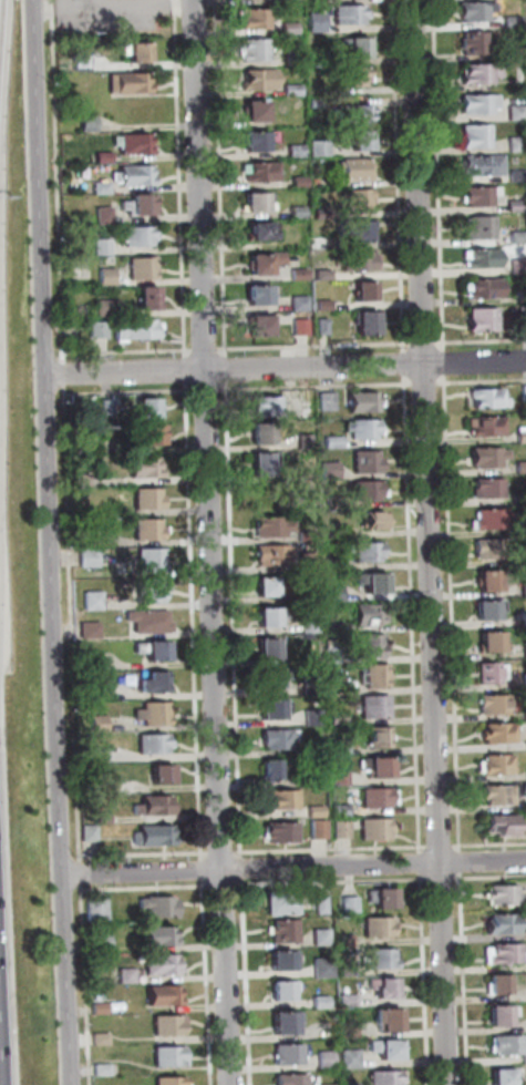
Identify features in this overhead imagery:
road: (0, 0)
building: (293, 1)
building: (478, 10)
building: (352, 16)
building: (257, 18)
building: (515, 21)
building: (320, 22)
building: (293, 29)
building: (477, 42)
building: (360, 47)
building: (258, 50)
building: (140, 51)
building: (296, 54)
building: (83, 64)
building: (483, 73)
building: (357, 76)
building: (262, 79)
building: (132, 83)
building: (297, 91)
building: (320, 103)
building: (483, 104)
building: (259, 110)
building: (519, 112)
building: (357, 113)
building: (92, 123)
building: (481, 136)
building: (365, 140)
building: (258, 141)
building: (136, 143)
building: (518, 143)
building: (323, 149)
building: (300, 150)
building: (106, 157)
building: (487, 166)
building: (358, 170)
building: (264, 171)
building: (136, 175)
road: (441, 175)
road: (401, 176)
building: (519, 176)
road: (223, 178)
road: (182, 180)
road: (60, 181)
building: (303, 182)
building: (318, 182)
building: (104, 187)
building: (483, 196)
building: (364, 201)
building: (259, 202)
building: (142, 204)
building: (518, 206)
building: (302, 213)
building: (326, 214)
building: (107, 215)
building: (484, 228)
building: (360, 231)
building: (264, 232)
building: (140, 235)
building: (519, 237)
building: (323, 242)
building: (105, 247)
building: (487, 257)
building: (362, 259)
building: (268, 263)
building: (520, 267)
building: (145, 268)
building: (302, 274)
building: (328, 275)
building: (110, 277)
building: (489, 288)
building: (369, 291)
building: (262, 295)
building: (520, 296)
building: (151, 298)
building: (302, 304)
building: (327, 306)
building: (106, 308)
building: (523, 314)
building: (486, 319)
building: (371, 324)
building: (265, 325)
building: (305, 327)
building: (326, 327)
building: (140, 329)
building: (102, 330)
road: (483, 341)
road: (427, 342)
road: (317, 346)
road: (207, 349)
road: (131, 351)
road: (446, 364)
road: (408, 366)
road: (287, 369)
road: (188, 370)
road: (228, 370)
road: (66, 373)
road: (484, 382)
road: (427, 383)
road: (318, 387)
road: (209, 390)
road: (131, 391)
building: (486, 397)
building: (364, 400)
building: (266, 405)
building: (147, 407)
building: (485, 424)
building: (362, 427)
building: (261, 431)
building: (148, 432)
building: (520, 432)
road: (49, 438)
building: (305, 439)
building: (333, 440)
building: (487, 454)
building: (365, 460)
building: (264, 462)
building: (145, 465)
building: (520, 465)
building: (330, 469)
building: (81, 478)
building: (486, 487)
building: (368, 489)
building: (147, 497)
building: (112, 509)
building: (489, 518)
building: (374, 519)
building: (272, 525)
building: (148, 528)
building: (306, 533)
road: (215, 542)
road: (432, 542)
building: (486, 547)
building: (368, 550)
building: (271, 554)
building: (90, 556)
building: (151, 557)
building: (309, 560)
building: (333, 562)
building: (488, 580)
building: (372, 581)
building: (266, 585)
building: (149, 587)
building: (332, 592)
building: (93, 600)
building: (488, 608)
building: (370, 613)
road: (454, 613)
building: (267, 615)
road: (414, 615)
building: (524, 615)
building: (148, 620)
road: (236, 620)
road: (196, 622)
building: (309, 623)
road: (74, 625)
building: (89, 628)
building: (491, 641)
building: (370, 644)
building: (267, 646)
building: (153, 648)
building: (525, 648)
building: (91, 662)
building: (492, 671)
building: (374, 675)
building: (270, 676)
building: (154, 680)
building: (334, 680)
building: (95, 684)
building: (494, 703)
building: (374, 706)
building: (274, 707)
building: (153, 712)
building: (314, 716)
building: (337, 717)
building: (99, 723)
building: (497, 731)
building: (378, 736)
building: (276, 738)
building: (338, 740)
building: (152, 741)
building: (99, 755)
building: (495, 762)
building: (377, 765)
building: (270, 767)
building: (162, 772)
building: (339, 777)
building: (497, 794)
building: (378, 796)
building: (280, 798)
building: (153, 805)
building: (338, 809)
building: (316, 810)
building: (501, 822)
building: (318, 828)
building: (340, 828)
building: (375, 828)
building: (280, 830)
building: (93, 833)
building: (153, 835)
road: (492, 845)
road: (443, 846)
road: (333, 849)
road: (224, 853)
road: (145, 854)
road: (463, 861)
road: (422, 862)
road: (245, 868)
road: (293, 868)
road: (205, 871)
road: (82, 874)
road: (491, 877)
road: (444, 879)
road: (334, 882)
road: (225, 886)
road: (147, 888)
building: (506, 895)
building: (385, 899)
building: (286, 904)
building: (324, 904)
building: (353, 905)
building: (162, 907)
building: (99, 910)
building: (505, 925)
building: (382, 927)
building: (287, 932)
building: (162, 938)
building: (323, 938)
building: (348, 941)
building: (103, 942)
building: (506, 955)
building: (383, 960)
building: (286, 962)
building: (163, 965)
building: (326, 968)
building: (350, 970)
building: (128, 975)
road: (426, 979)
road: (66, 980)
road: (466, 980)
road: (208, 982)
road: (248, 982)
road: (86, 984)
building: (501, 986)
building: (388, 989)
building: (285, 991)
building: (164, 996)
building: (350, 1001)
building: (322, 1002)
building: (100, 1009)
building: (502, 1017)
building: (391, 1021)
building: (287, 1024)
building: (168, 1026)
building: (352, 1031)
building: (101, 1040)
building: (510, 1046)
building: (389, 1051)
building: (290, 1055)
building: (169, 1057)
building: (328, 1060)
building: (352, 1060)
building: (525, 1060)
building: (102, 1071)
building: (386, 1077)
building: (504, 1077)
building: (292, 1079)
building: (169, 1082)

